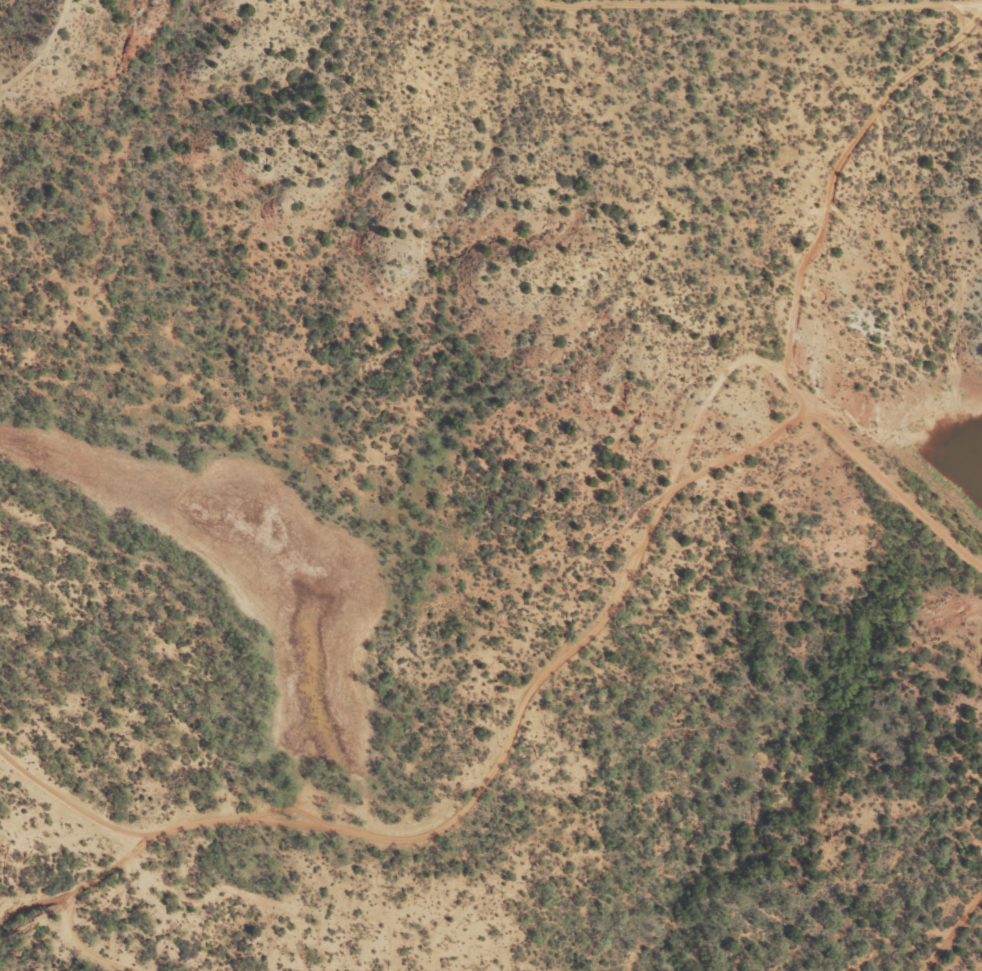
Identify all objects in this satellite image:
road: (584, 653)
road: (373, 940)

